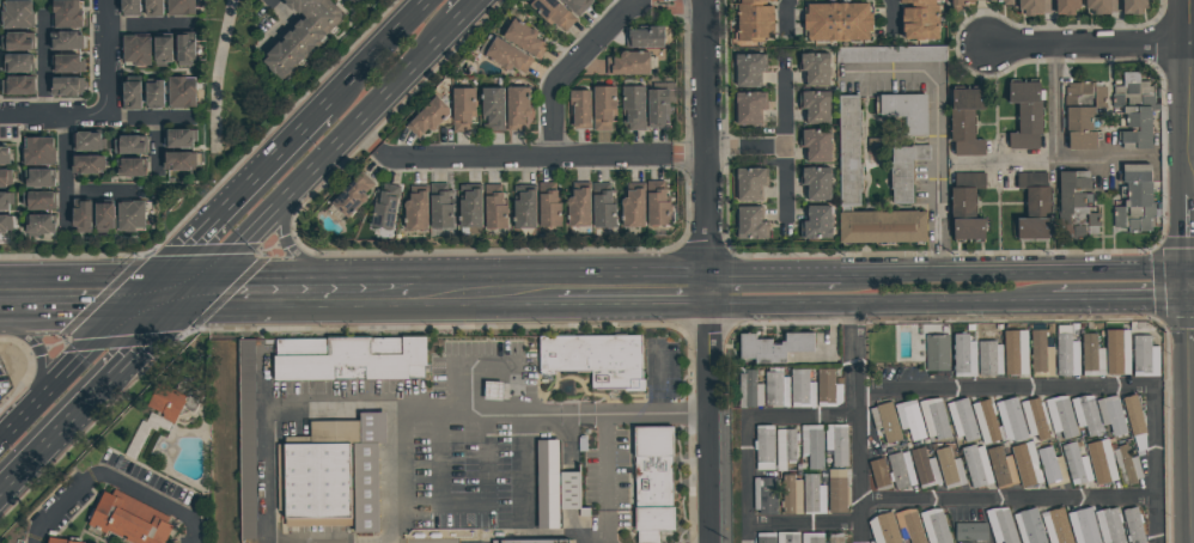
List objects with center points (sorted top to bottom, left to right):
building: (353, 1)
building: (358, 1)
building: (993, 1)
road: (677, 2)
building: (958, 2)
building: (1006, 2)
building: (574, 6)
building: (1096, 6)
building: (1132, 6)
building: (132, 7)
building: (156, 7)
building: (181, 7)
building: (1029, 7)
building: (1066, 7)
road: (890, 11)
road: (467, 12)
building: (17, 14)
building: (66, 14)
building: (552, 14)
road: (785, 16)
building: (919, 19)
building: (754, 20)
road: (983, 22)
building: (836, 23)
road: (147, 25)
road: (1192, 32)
building: (300, 35)
building: (644, 38)
building: (67, 39)
building: (523, 39)
building: (18, 41)
road: (1086, 43)
building: (135, 49)
building: (164, 49)
building: (187, 49)
road: (378, 50)
building: (890, 55)
building: (505, 56)
road: (105, 57)
building: (18, 62)
building: (67, 62)
road: (574, 62)
building: (630, 65)
road: (43, 66)
building: (748, 71)
building: (814, 71)
road: (701, 75)
road: (219, 78)
building: (18, 85)
building: (66, 86)
building: (181, 92)
building: (133, 94)
building: (156, 94)
road: (1192, 99)
road: (1053, 103)
building: (602, 108)
building: (633, 108)
building: (491, 109)
building: (514, 109)
building: (578, 109)
building: (656, 109)
building: (748, 109)
building: (814, 109)
building: (461, 110)
road: (784, 111)
building: (906, 111)
building: (1082, 114)
building: (1134, 115)
building: (1024, 116)
road: (91, 117)
building: (426, 118)
road: (937, 121)
building: (964, 122)
road: (1190, 135)
building: (182, 136)
road: (367, 138)
building: (89, 141)
building: (130, 144)
road: (158, 145)
building: (814, 146)
building: (876, 146)
road: (744, 150)
building: (38, 151)
building: (848, 152)
road: (688, 153)
building: (4, 154)
road: (324, 157)
road: (524, 157)
building: (179, 160)
road: (1054, 161)
building: (87, 164)
building: (130, 166)
building: (904, 171)
road: (63, 175)
building: (6, 177)
building: (38, 177)
building: (815, 184)
building: (749, 185)
road: (785, 189)
road: (103, 193)
road: (236, 196)
building: (351, 196)
building: (39, 200)
building: (1134, 200)
building: (6, 201)
building: (656, 205)
building: (547, 206)
building: (602, 206)
building: (1073, 206)
building: (439, 207)
building: (468, 207)
building: (632, 207)
building: (964, 207)
building: (1032, 207)
building: (383, 208)
building: (493, 208)
building: (522, 208)
building: (577, 209)
building: (414, 213)
building: (132, 214)
building: (106, 215)
building: (84, 216)
building: (5, 222)
building: (41, 222)
building: (815, 224)
building: (750, 225)
building: (881, 228)
road: (321, 267)
road: (768, 271)
road: (1017, 271)
traffic signals: (144, 292)
road: (98, 293)
traffic signals: (197, 293)
road: (237, 293)
road: (346, 293)
road: (630, 293)
road: (486, 294)
road: (875, 307)
road: (1122, 307)
road: (774, 323)
road: (409, 328)
road: (703, 347)
building: (775, 347)
road: (86, 352)
building: (1120, 352)
building: (938, 353)
building: (1017, 353)
building: (1042, 355)
building: (1068, 355)
building: (965, 356)
building: (1094, 356)
building: (1147, 358)
road: (42, 359)
building: (351, 359)
building: (597, 359)
building: (992, 359)
road: (489, 364)
parking lot: (663, 367)
road: (657, 379)
building: (824, 386)
building: (772, 389)
building: (800, 389)
road: (942, 389)
building: (750, 390)
road: (98, 393)
road: (353, 399)
building: (169, 402)
building: (1134, 414)
building: (1088, 415)
building: (1114, 415)
building: (1062, 416)
building: (1013, 417)
building: (936, 419)
building: (912, 420)
building: (963, 420)
building: (1035, 420)
building: (888, 422)
building: (985, 422)
road: (859, 425)
road: (1169, 427)
road: (14, 428)
building: (374, 428)
road: (608, 429)
building: (336, 433)
building: (248, 439)
road: (440, 443)
parking lot: (473, 443)
building: (839, 444)
building: (815, 446)
building: (767, 447)
building: (787, 451)
building: (1078, 463)
building: (1027, 464)
building: (1107, 464)
building: (1128, 465)
building: (979, 466)
road: (524, 468)
parking lot: (608, 468)
building: (1004, 468)
building: (1053, 468)
road: (1155, 468)
building: (926, 469)
building: (951, 469)
building: (902, 470)
building: (881, 474)
road: (748, 482)
building: (315, 484)
building: (550, 484)
building: (367, 487)
building: (572, 490)
building: (840, 492)
building: (793, 495)
building: (816, 495)
building: (767, 496)
road: (945, 501)
road: (156, 502)
road: (63, 506)
building: (586, 513)
building: (657, 519)
building: (128, 520)
building: (1083, 524)
building: (1003, 525)
building: (1135, 525)
building: (910, 526)
building: (937, 526)
building: (1031, 526)
building: (1059, 526)
building: (1111, 526)
building: (884, 527)
building: (973, 532)
building: (650, 537)
building: (790, 537)
building: (767, 538)
building: (815, 538)
building: (837, 538)
road: (331, 539)
building: (59, 541)
building: (534, 542)

